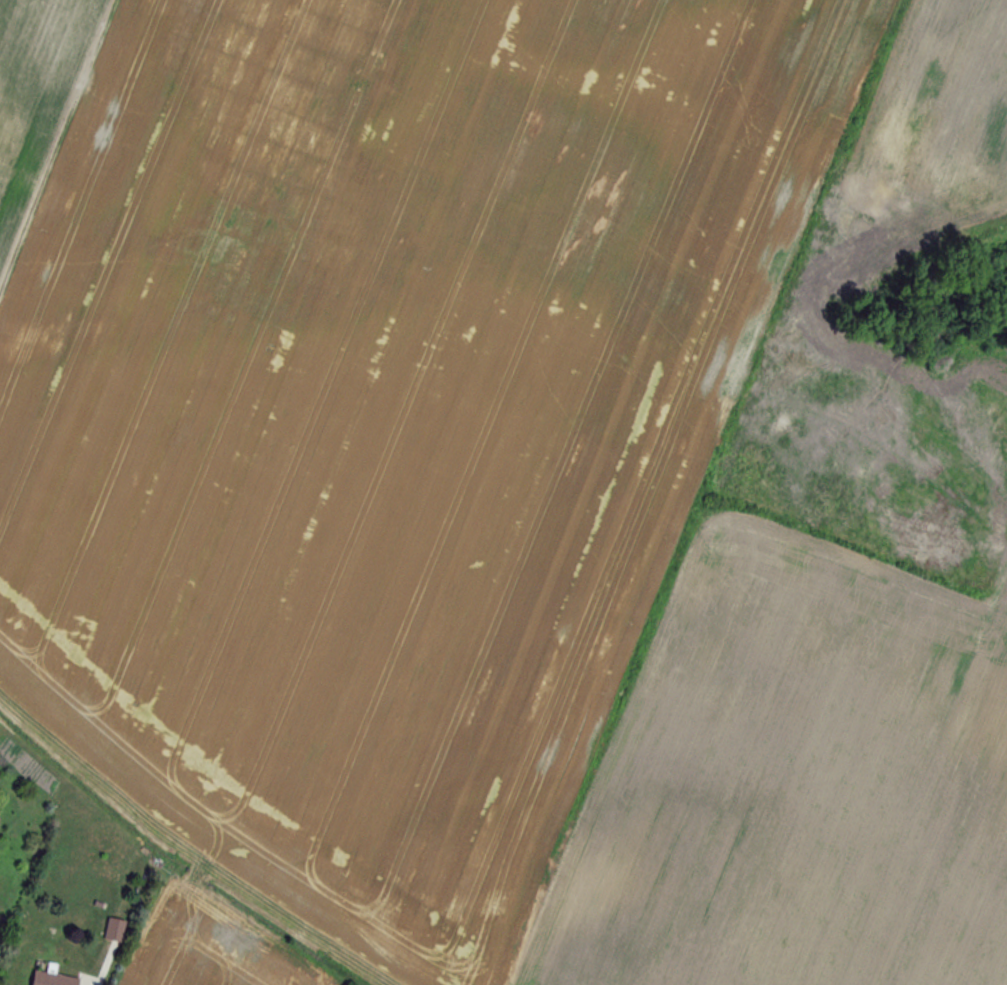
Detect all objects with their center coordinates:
crop: (33, 84)
crop: (400, 400)
crop: (800, 785)
building: (114, 930)
building: (53, 979)

